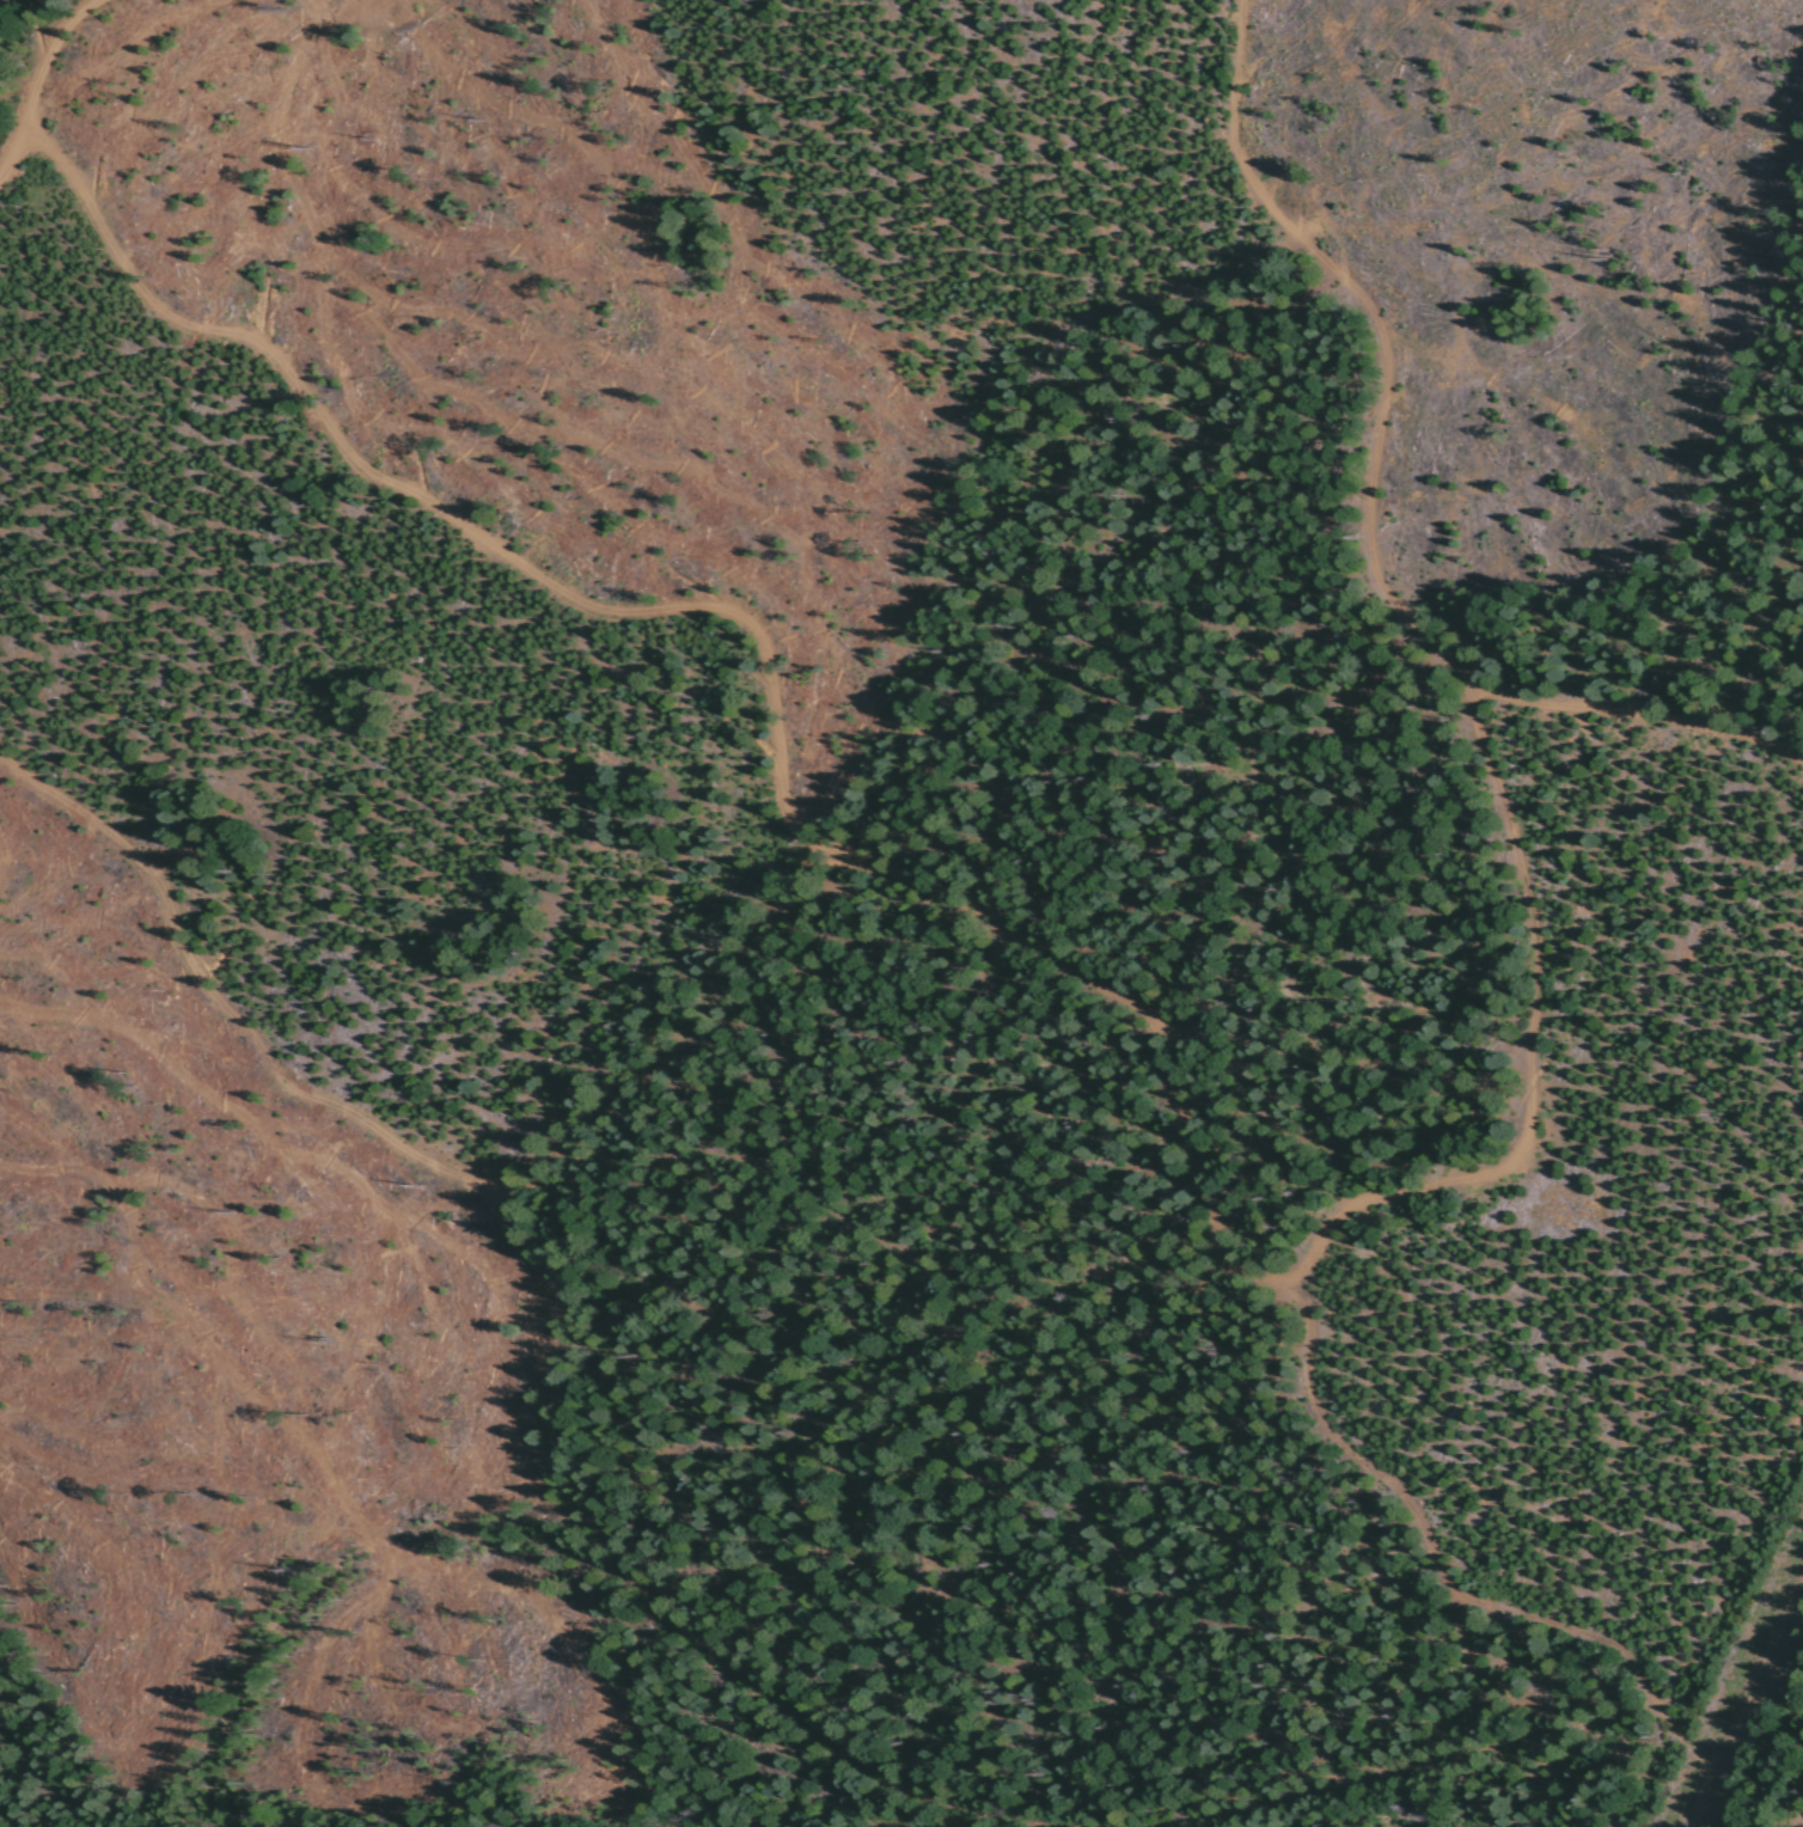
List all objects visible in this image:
road: (47, 80)
road: (1740, 1692)

